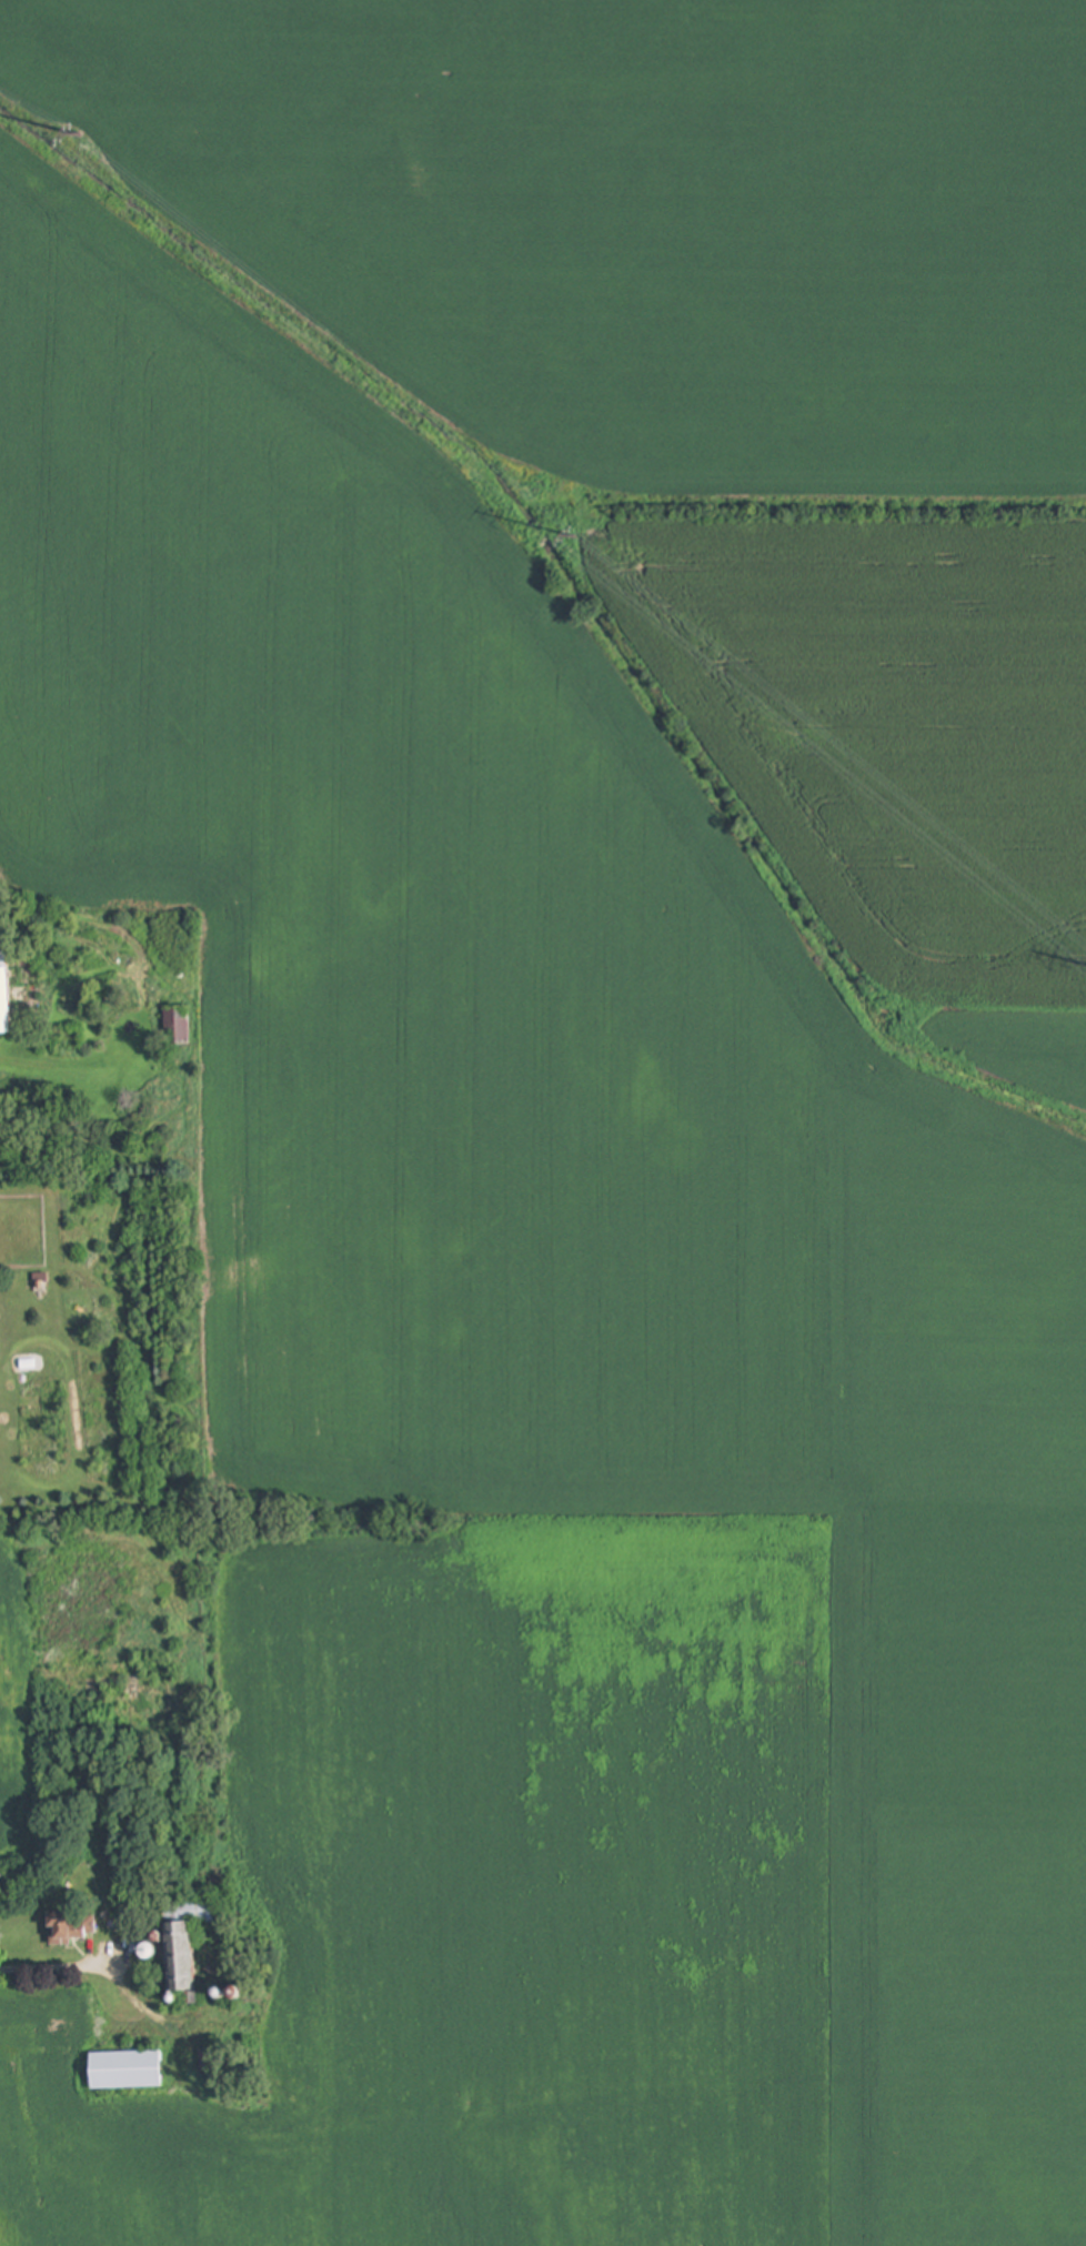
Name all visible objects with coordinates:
power tower: (81, 138)
building: (4, 996)
building: (177, 1026)
building: (70, 1926)
building: (184, 1937)
road: (59, 1967)
building: (125, 2069)

